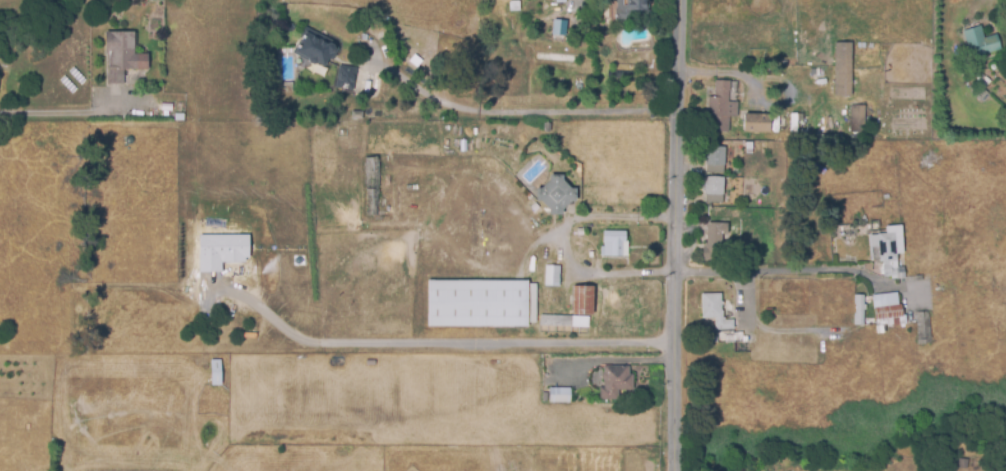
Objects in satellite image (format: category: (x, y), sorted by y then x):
building: (562, 0)
building: (515, 4)
building: (629, 7)
building: (558, 28)
building: (981, 44)
building: (319, 50)
building: (123, 54)
building: (843, 67)
building: (346, 76)
building: (167, 105)
building: (723, 106)
road: (59, 112)
road: (521, 112)
building: (357, 113)
building: (858, 120)
building: (757, 121)
building: (548, 126)
building: (342, 132)
building: (717, 158)
building: (371, 185)
building: (714, 188)
building: (556, 193)
road: (674, 235)
building: (715, 240)
road: (567, 241)
building: (615, 243)
building: (890, 249)
building: (220, 251)
building: (868, 265)
road: (764, 270)
building: (552, 274)
building: (583, 299)
building: (478, 302)
building: (890, 308)
building: (715, 309)
building: (859, 309)
building: (556, 323)
building: (924, 326)
road: (433, 342)
road: (737, 345)
building: (217, 370)
building: (616, 380)
building: (560, 393)
building: (963, 462)

